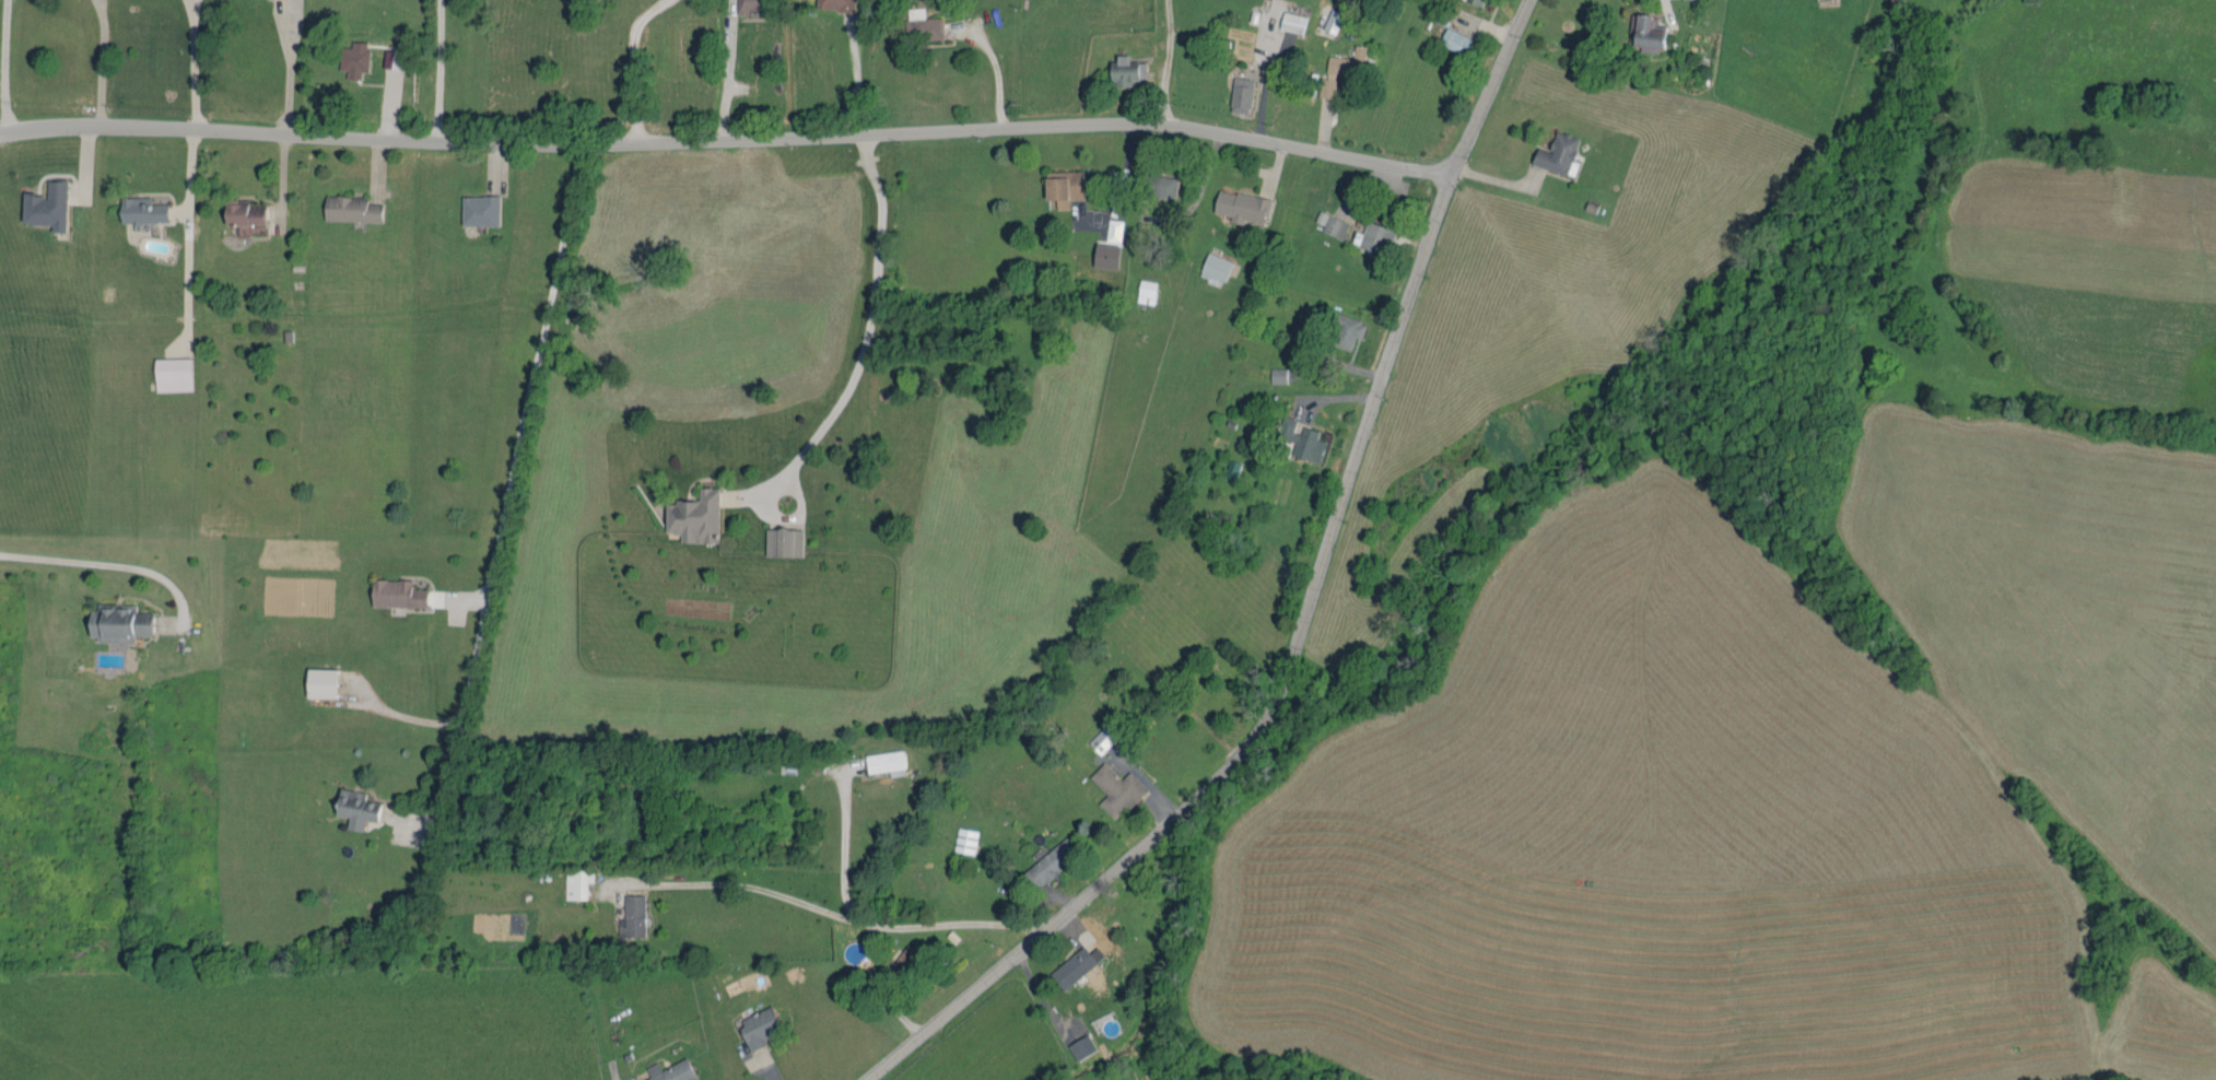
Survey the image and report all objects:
building: (1474, 0)
building: (829, 3)
building: (741, 5)
building: (1327, 17)
building: (1288, 20)
building: (916, 22)
building: (1640, 30)
building: (1450, 37)
building: (349, 56)
road: (98, 62)
road: (191, 63)
road: (631, 64)
road: (2, 67)
building: (1336, 67)
road: (286, 68)
building: (1119, 68)
road: (436, 71)
road: (990, 72)
road: (855, 77)
road: (719, 83)
building: (1235, 92)
road: (728, 142)
building: (1550, 151)
road: (1114, 176)
building: (1154, 183)
building: (1057, 184)
road: (1197, 193)
building: (40, 203)
building: (1235, 203)
building: (344, 206)
building: (473, 207)
building: (137, 208)
building: (238, 211)
building: (1326, 221)
road: (186, 234)
building: (1368, 235)
building: (1210, 263)
building: (1141, 289)
building: (1340, 327)
road: (863, 345)
building: (166, 371)
building: (1274, 372)
building: (1293, 439)
road: (508, 481)
building: (689, 515)
building: (777, 540)
road: (105, 563)
building: (389, 589)
road: (1306, 610)
building: (110, 619)
building: (880, 759)
building: (1111, 785)
building: (349, 803)
road: (841, 848)
building: (628, 912)
road: (835, 919)
power tower: (86, 946)
building: (1071, 963)
building: (753, 1023)
building: (1076, 1044)
building: (664, 1069)

